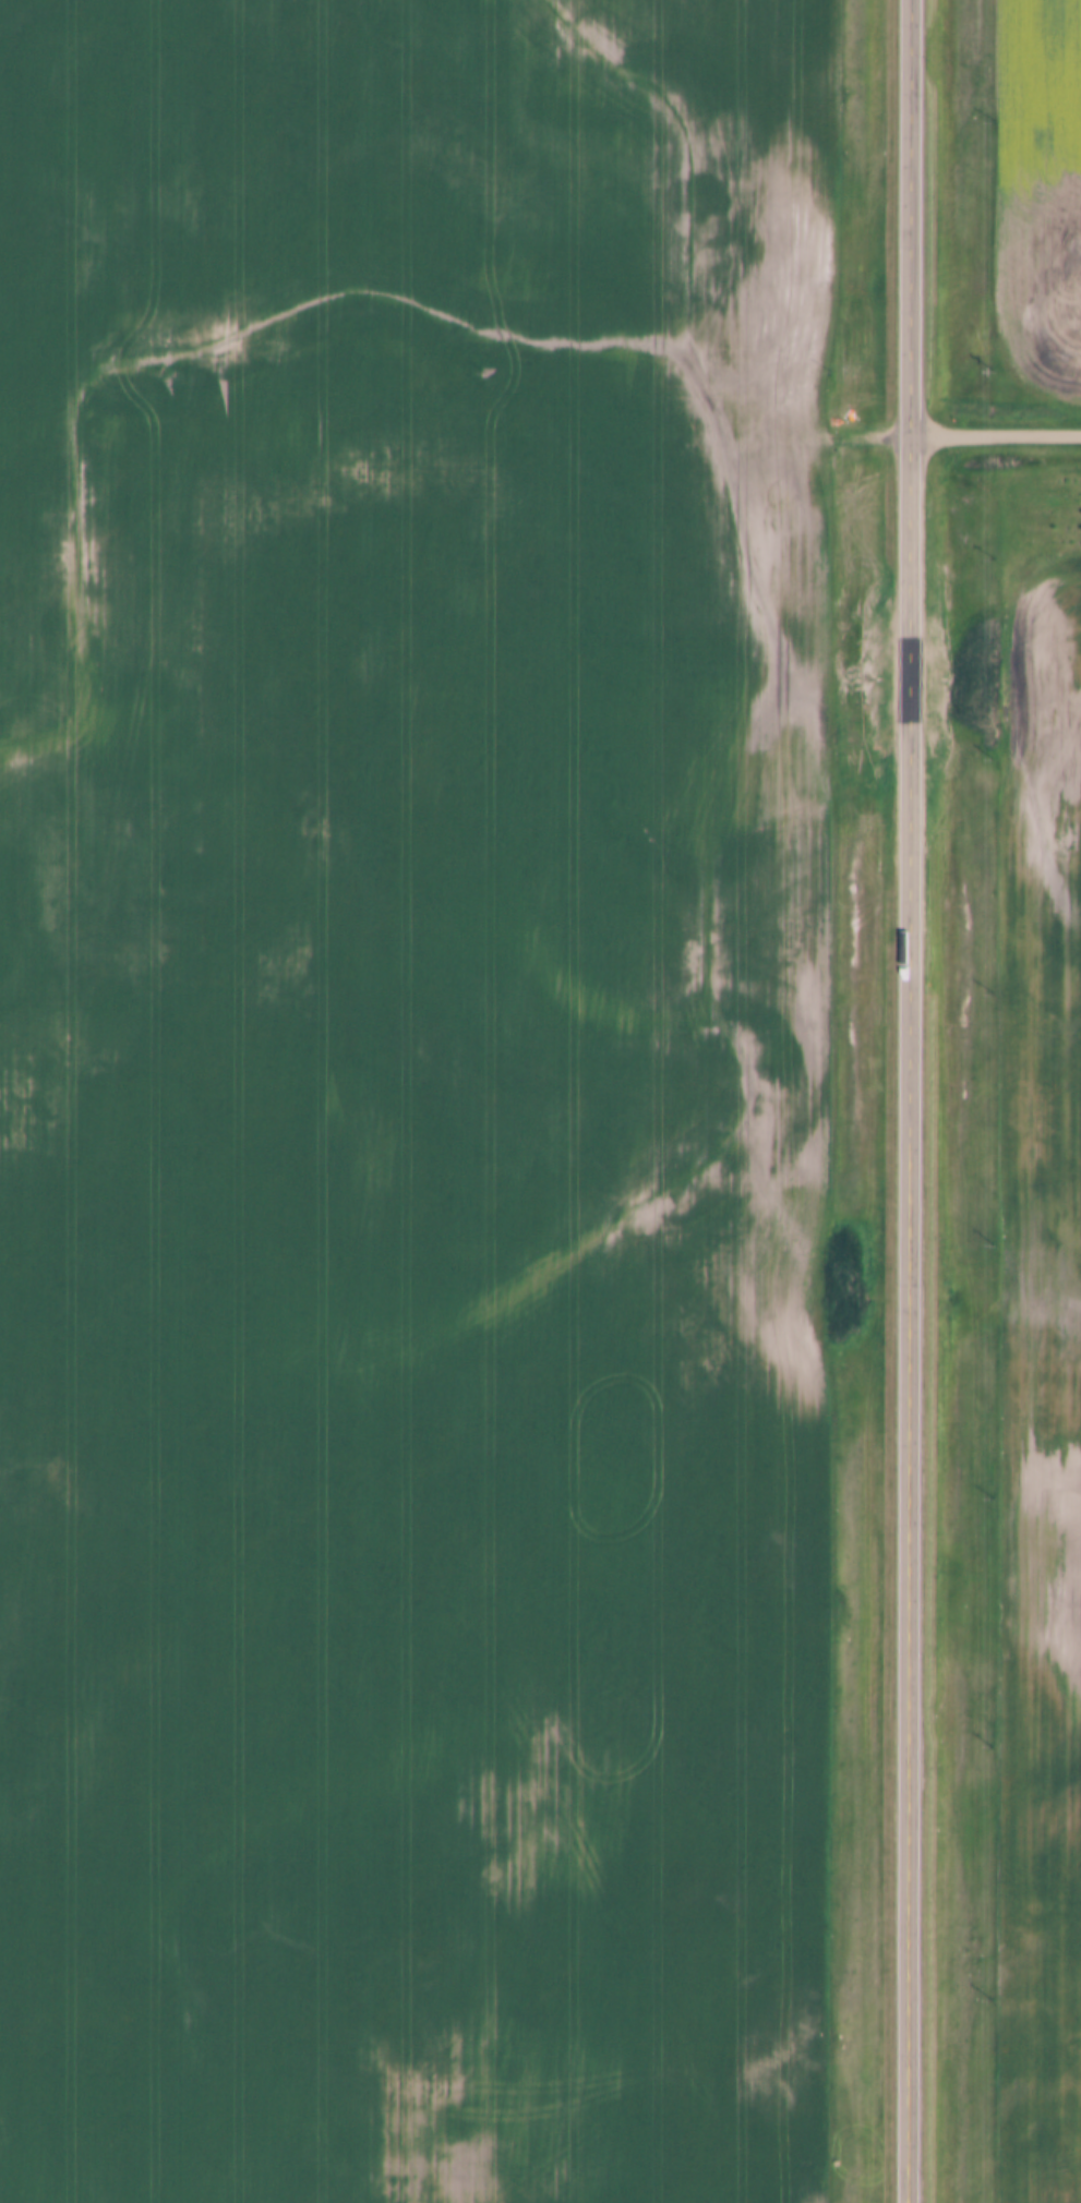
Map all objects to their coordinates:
road: (998, 432)
road: (914, 1100)

